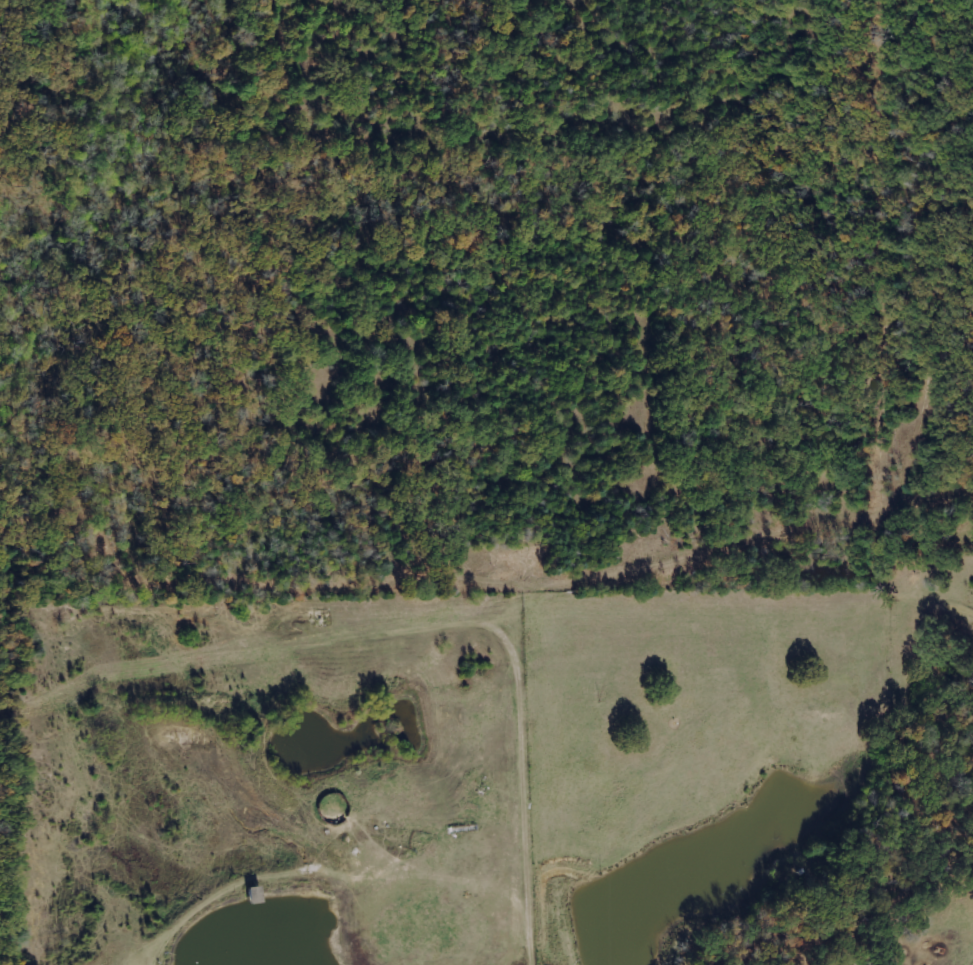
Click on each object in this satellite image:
park: (439, 297)
road: (526, 819)

